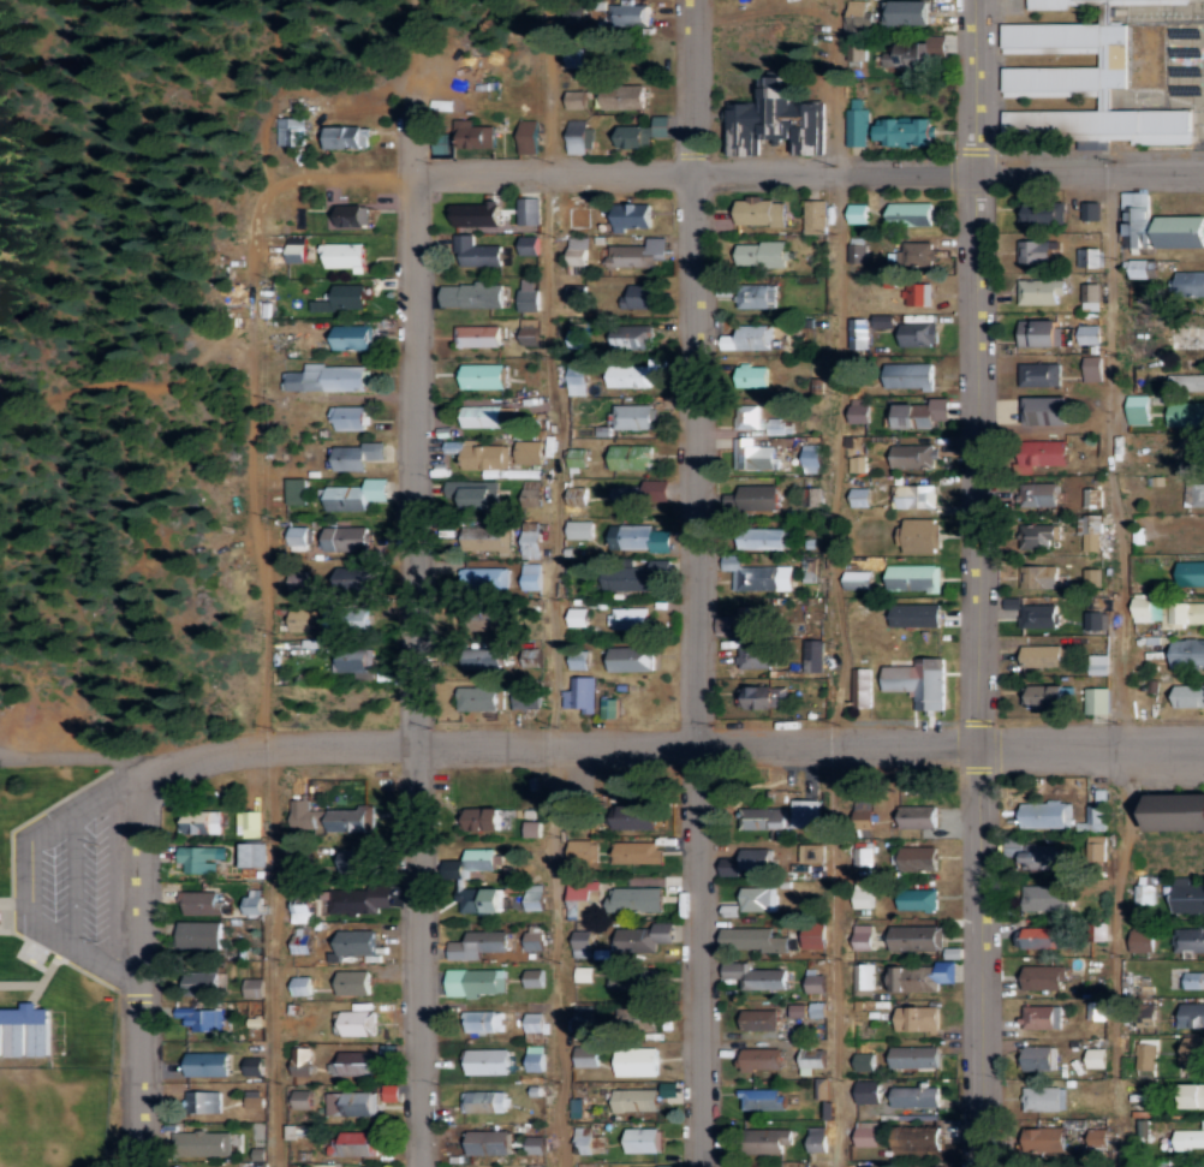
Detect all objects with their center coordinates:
building: (1055, 4)
building: (911, 12)
building: (627, 13)
building: (574, 16)
building: (858, 17)
road: (410, 43)
building: (857, 52)
building: (916, 53)
building: (576, 56)
road: (418, 76)
building: (1091, 83)
building: (625, 96)
building: (577, 99)
building: (775, 120)
building: (857, 123)
building: (907, 130)
building: (291, 131)
building: (640, 132)
building: (342, 136)
building: (481, 136)
building: (578, 137)
building: (529, 141)
road: (806, 165)
building: (1087, 209)
building: (529, 210)
building: (577, 212)
building: (1039, 212)
building: (858, 213)
building: (912, 213)
building: (478, 214)
building: (350, 215)
building: (633, 215)
building: (757, 215)
building: (816, 215)
building: (1158, 225)
building: (530, 244)
building: (296, 249)
building: (857, 249)
building: (1036, 251)
building: (475, 252)
building: (636, 252)
building: (917, 254)
building: (345, 255)
building: (578, 255)
building: (1089, 256)
building: (759, 257)
building: (1142, 268)
building: (1188, 285)
building: (578, 293)
building: (917, 293)
building: (472, 294)
building: (529, 294)
building: (1037, 296)
building: (1091, 296)
building: (346, 297)
building: (638, 297)
building: (759, 299)
building: (880, 322)
building: (530, 331)
building: (858, 333)
building: (1036, 333)
building: (576, 334)
building: (1090, 334)
building: (352, 335)
building: (478, 335)
building: (631, 335)
building: (751, 337)
building: (914, 338)
building: (727, 344)
building: (1093, 368)
building: (637, 374)
building: (483, 375)
building: (1037, 376)
building: (577, 377)
building: (750, 379)
building: (906, 380)
building: (1193, 382)
building: (1138, 409)
building: (1048, 410)
building: (860, 412)
building: (920, 413)
building: (487, 416)
building: (632, 416)
building: (1186, 417)
building: (350, 418)
building: (745, 421)
building: (529, 451)
building: (1053, 452)
building: (358, 454)
building: (753, 454)
building: (483, 457)
building: (631, 457)
building: (811, 457)
building: (578, 458)
building: (857, 463)
building: (296, 490)
building: (531, 493)
building: (640, 493)
building: (1193, 493)
building: (352, 494)
building: (471, 494)
building: (1025, 494)
building: (1047, 494)
building: (578, 495)
building: (912, 495)
building: (862, 496)
building: (755, 501)
building: (580, 529)
building: (1047, 534)
building: (1181, 534)
building: (919, 535)
building: (298, 537)
building: (346, 537)
building: (639, 537)
building: (768, 537)
building: (487, 538)
building: (531, 538)
building: (1191, 573)
building: (530, 576)
building: (631, 576)
building: (758, 576)
building: (1039, 576)
building: (1093, 576)
building: (913, 577)
building: (354, 578)
building: (483, 578)
building: (857, 579)
building: (299, 582)
road: (554, 583)
road: (697, 583)
road: (979, 583)
road: (833, 585)
road: (266, 602)
building: (1142, 607)
building: (917, 615)
building: (1038, 615)
building: (578, 617)
building: (627, 618)
building: (757, 619)
building: (300, 620)
building: (348, 620)
building: (1096, 621)
building: (1187, 653)
building: (1043, 655)
building: (756, 656)
building: (815, 656)
building: (483, 659)
building: (579, 659)
building: (631, 659)
building: (352, 661)
building: (1098, 665)
road: (1122, 665)
road: (417, 669)
building: (919, 681)
building: (860, 687)
building: (580, 693)
building: (1044, 696)
building: (1188, 696)
building: (479, 697)
building: (763, 697)
building: (528, 698)
building: (1097, 698)
building: (610, 708)
road: (676, 732)
building: (864, 810)
building: (578, 811)
building: (1097, 811)
building: (644, 814)
building: (806, 814)
building: (1044, 814)
building: (919, 816)
building: (332, 817)
building: (763, 817)
building: (477, 820)
building: (199, 822)
building: (250, 823)
building: (1096, 851)
building: (633, 852)
building: (812, 852)
building: (579, 853)
building: (1036, 853)
building: (255, 855)
building: (863, 856)
building: (201, 858)
building: (479, 858)
building: (756, 858)
building: (919, 858)
building: (354, 859)
building: (300, 863)
building: (732, 867)
building: (1144, 894)
building: (864, 895)
building: (1047, 897)
building: (582, 898)
building: (918, 898)
building: (1188, 898)
building: (359, 899)
building: (481, 899)
building: (534, 899)
building: (634, 899)
building: (758, 899)
building: (252, 901)
building: (201, 903)
building: (302, 912)
building: (198, 935)
building: (642, 937)
building: (863, 937)
building: (914, 937)
building: (1037, 937)
building: (1142, 937)
building: (534, 939)
building: (815, 939)
building: (302, 940)
building: (752, 940)
building: (1187, 941)
building: (582, 942)
building: (356, 943)
building: (478, 945)
road: (138, 965)
building: (580, 972)
building: (756, 976)
building: (863, 976)
building: (535, 977)
building: (920, 977)
building: (1043, 977)
building: (633, 980)
building: (1193, 980)
building: (354, 982)
building: (476, 982)
building: (202, 983)
building: (816, 983)
building: (1142, 984)
building: (302, 986)
building: (254, 987)
building: (797, 1010)
building: (817, 1010)
building: (1192, 1013)
building: (583, 1016)
building: (637, 1017)
building: (1041, 1017)
building: (759, 1018)
building: (917, 1018)
building: (198, 1019)
building: (483, 1022)
building: (357, 1023)
building: (535, 1026)
building: (25, 1031)
building: (1192, 1053)
building: (1145, 1055)
building: (586, 1056)
building: (914, 1056)
building: (535, 1058)
building: (1038, 1058)
building: (1097, 1058)
building: (762, 1059)
building: (812, 1060)
building: (302, 1061)
building: (488, 1061)
building: (636, 1061)
building: (864, 1061)
building: (207, 1064)
building: (352, 1064)
building: (254, 1066)
building: (868, 1091)
building: (914, 1096)
building: (1194, 1096)
building: (302, 1098)
building: (762, 1098)
building: (1042, 1098)
building: (636, 1100)
building: (483, 1101)
building: (202, 1102)
building: (347, 1103)
building: (577, 1108)
building: (866, 1136)
building: (1097, 1136)
building: (1188, 1137)
building: (916, 1138)
building: (1047, 1138)
building: (642, 1139)
building: (817, 1139)
building: (769, 1141)
building: (489, 1142)
building: (201, 1143)
building: (350, 1144)
building: (536, 1144)
building: (1047, 1162)
building: (584, 1163)
building: (366, 1166)
building: (536, 1166)
building: (1199, 1166)

